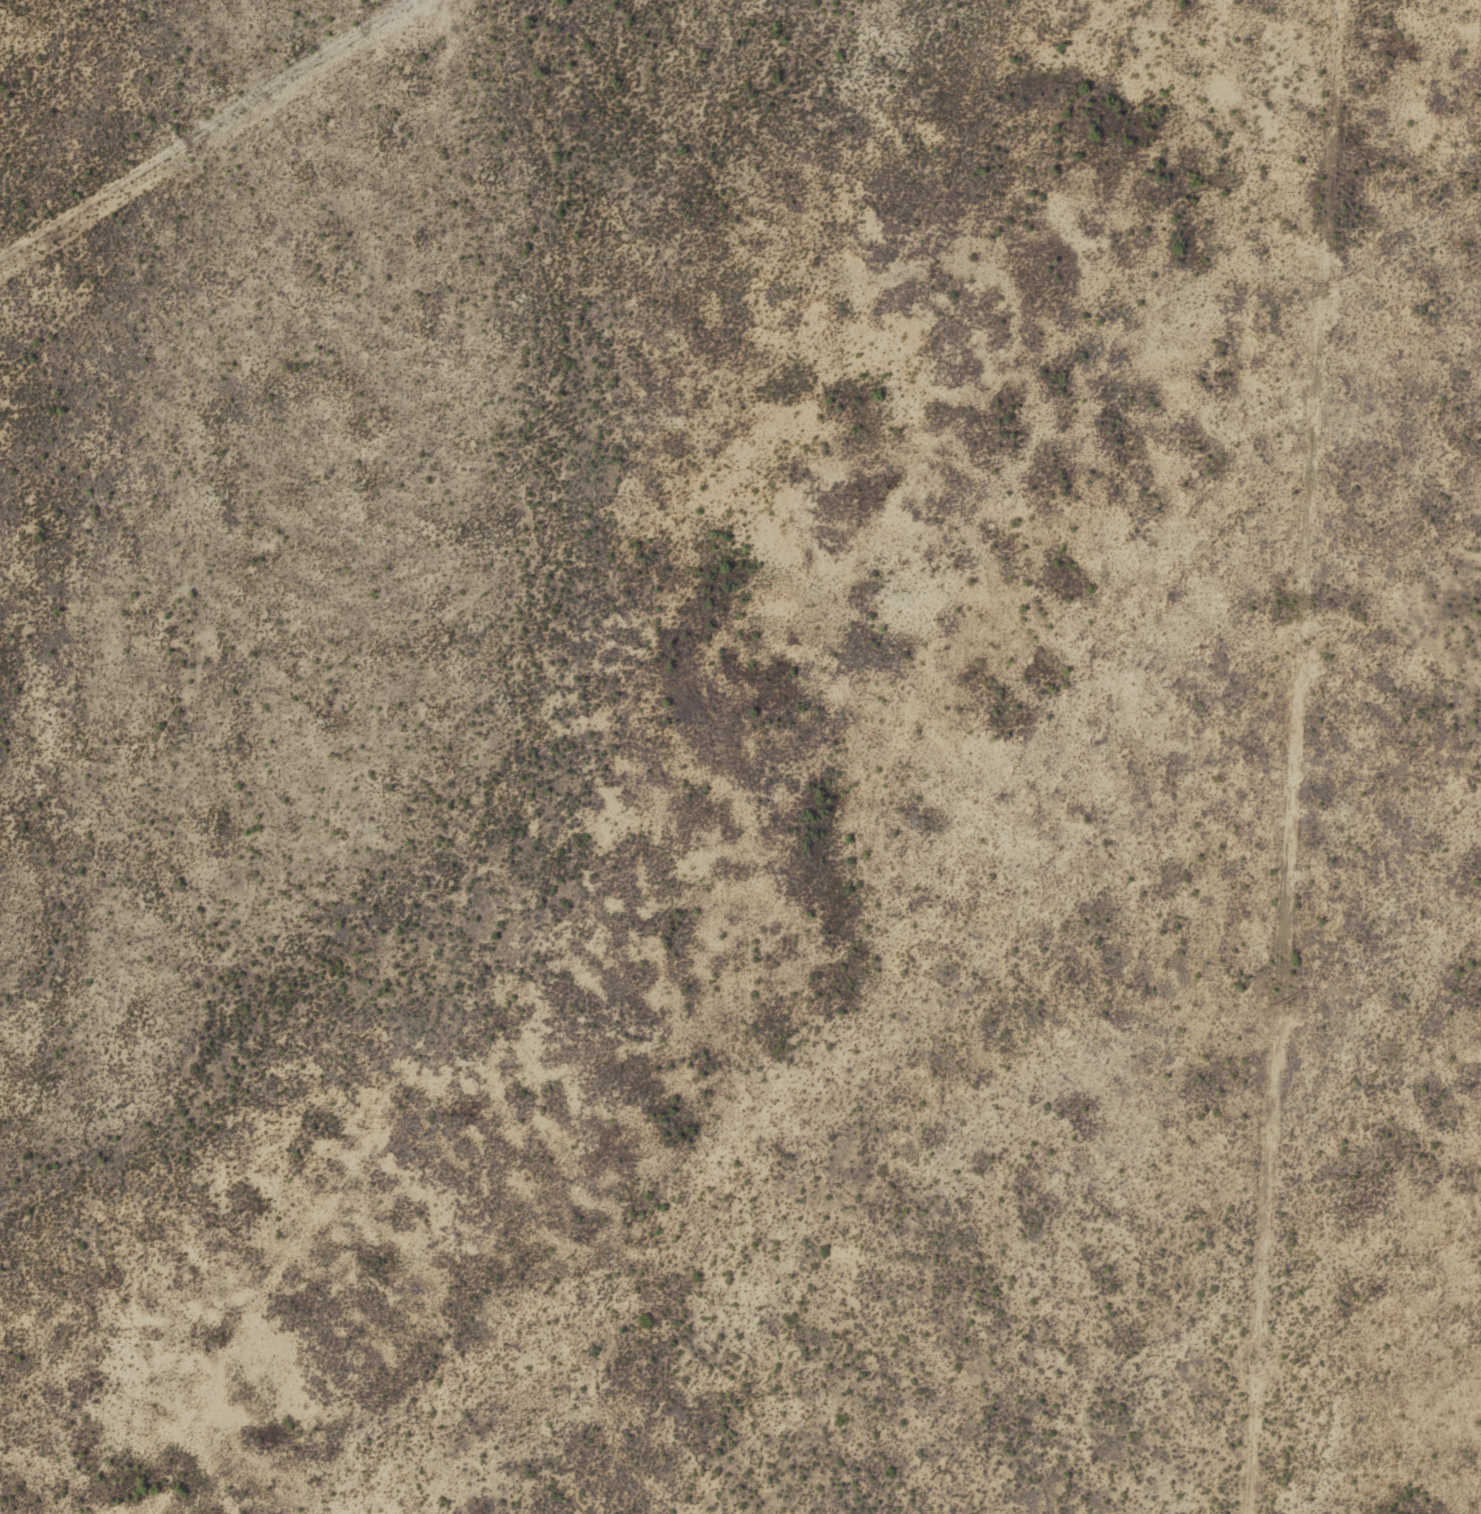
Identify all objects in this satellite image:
power tower: (1321, 287)
power tower: (1299, 647)
power tower: (1277, 1006)
power tower: (1255, 1364)

